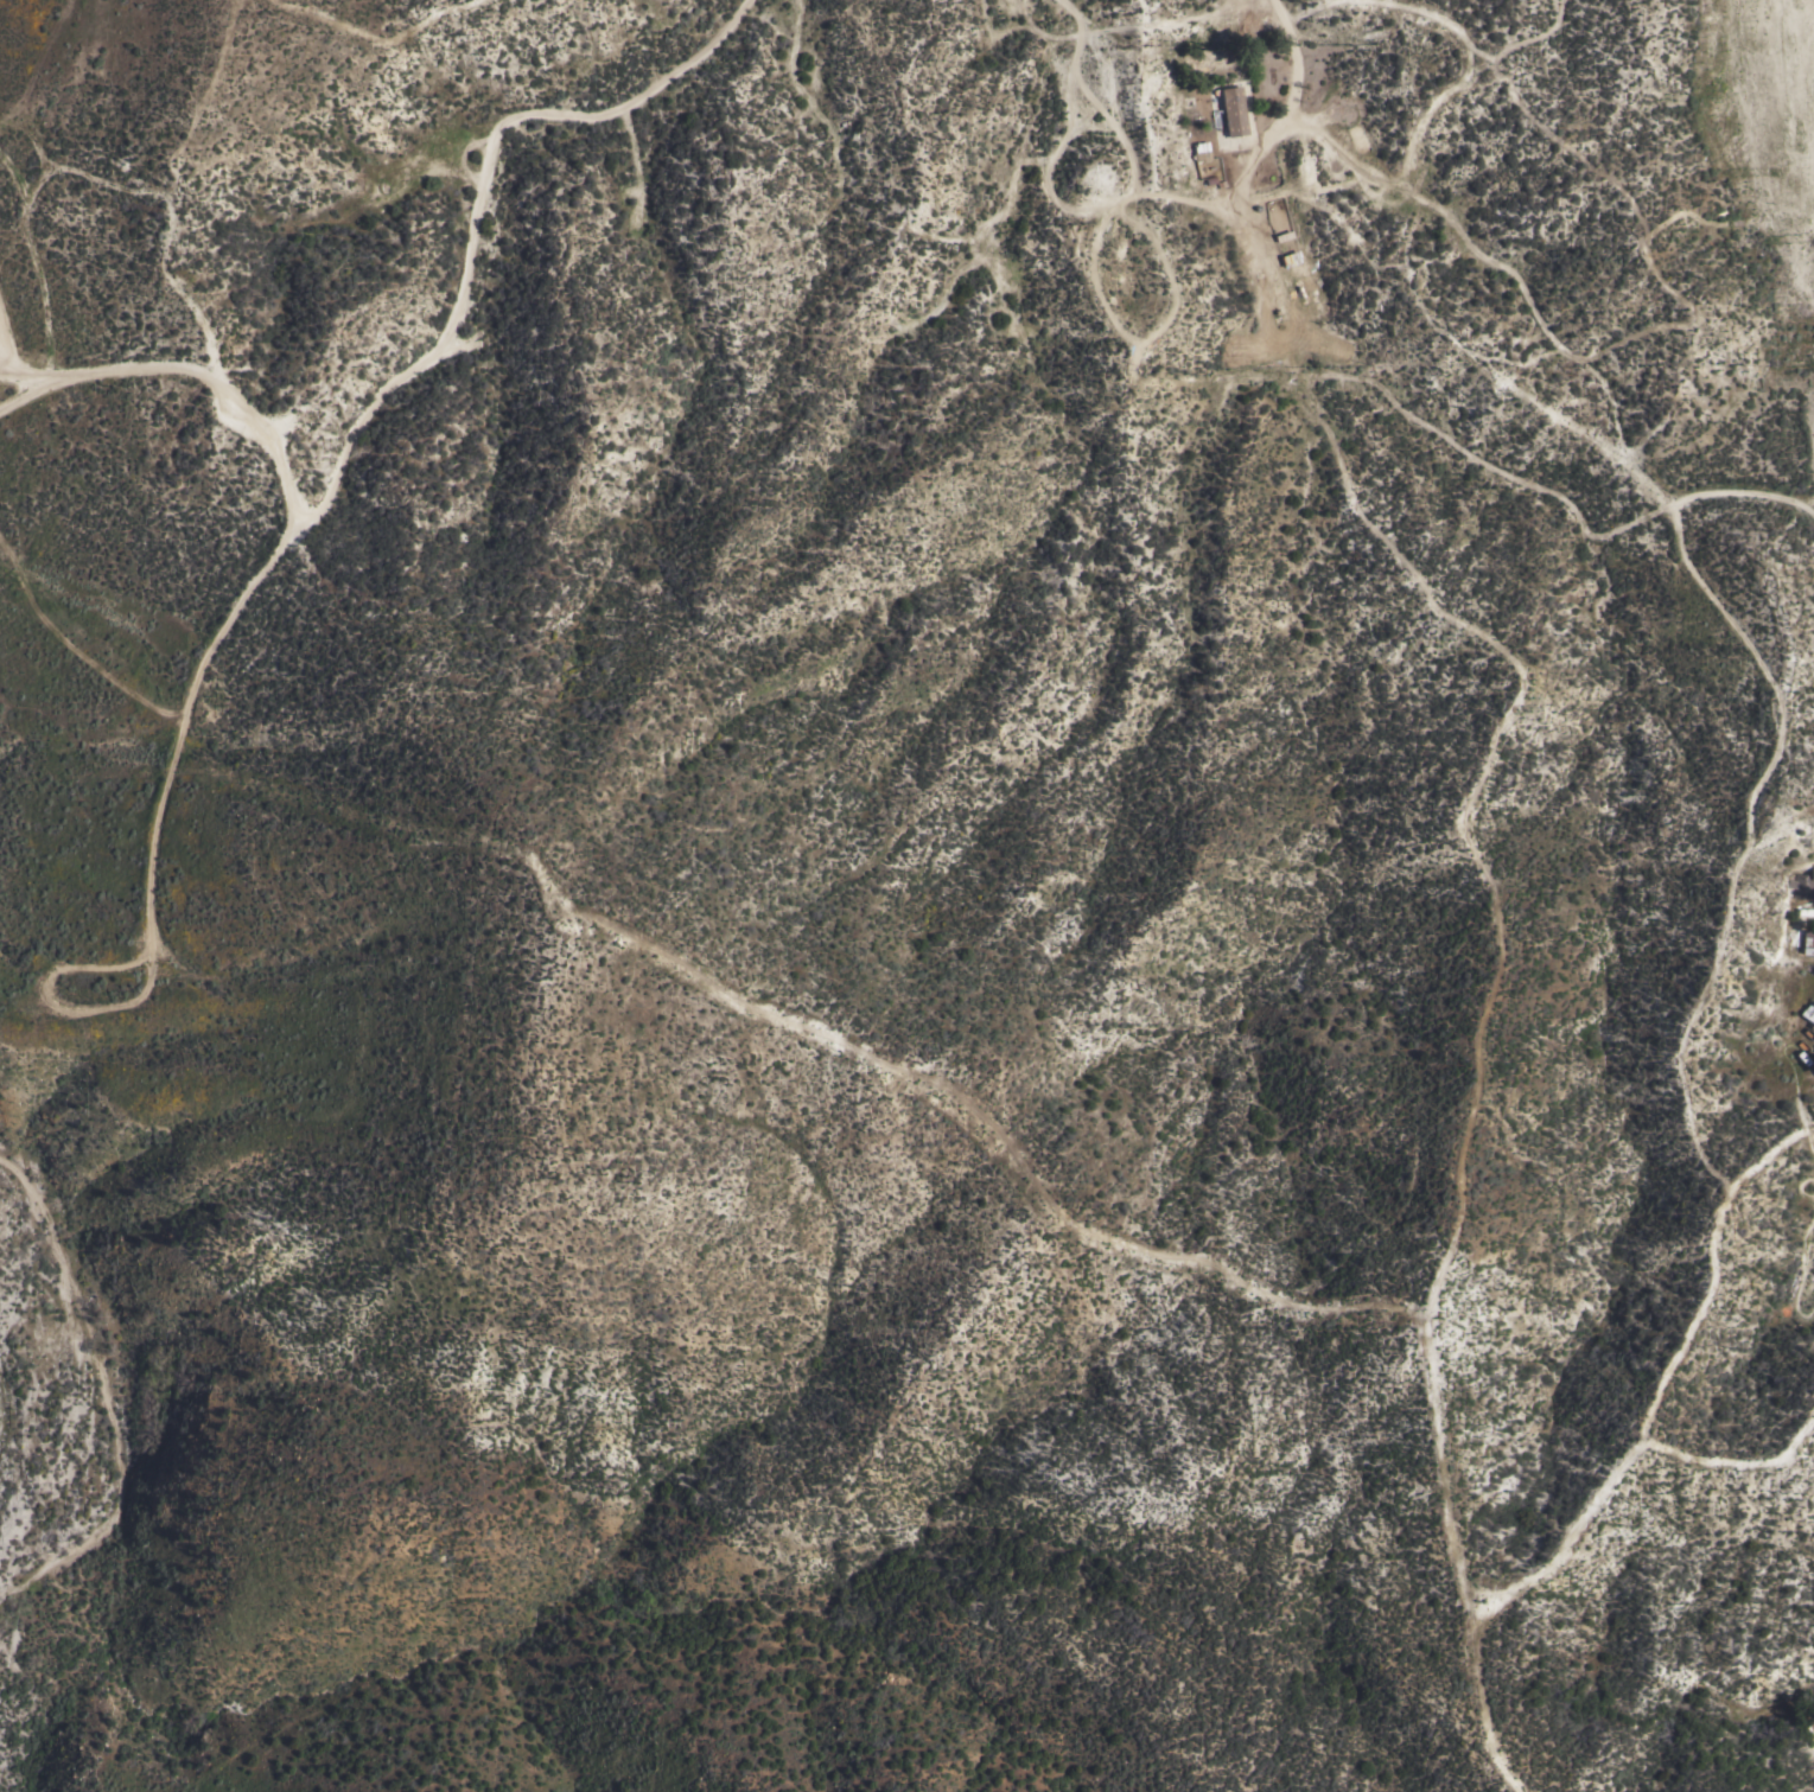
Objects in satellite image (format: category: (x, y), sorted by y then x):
road: (39, 64)
building: (1233, 111)
road: (1751, 134)
building: (1356, 146)
road: (1256, 154)
road: (1417, 193)
road: (1801, 260)
building: (1305, 289)
road: (46, 317)
road: (2, 365)
road: (193, 371)
road: (371, 408)
road: (1812, 447)
road: (1743, 493)
road: (1673, 517)
road: (1781, 739)
building: (1803, 886)
building: (1808, 940)
road: (52, 1000)
road: (26, 1181)

